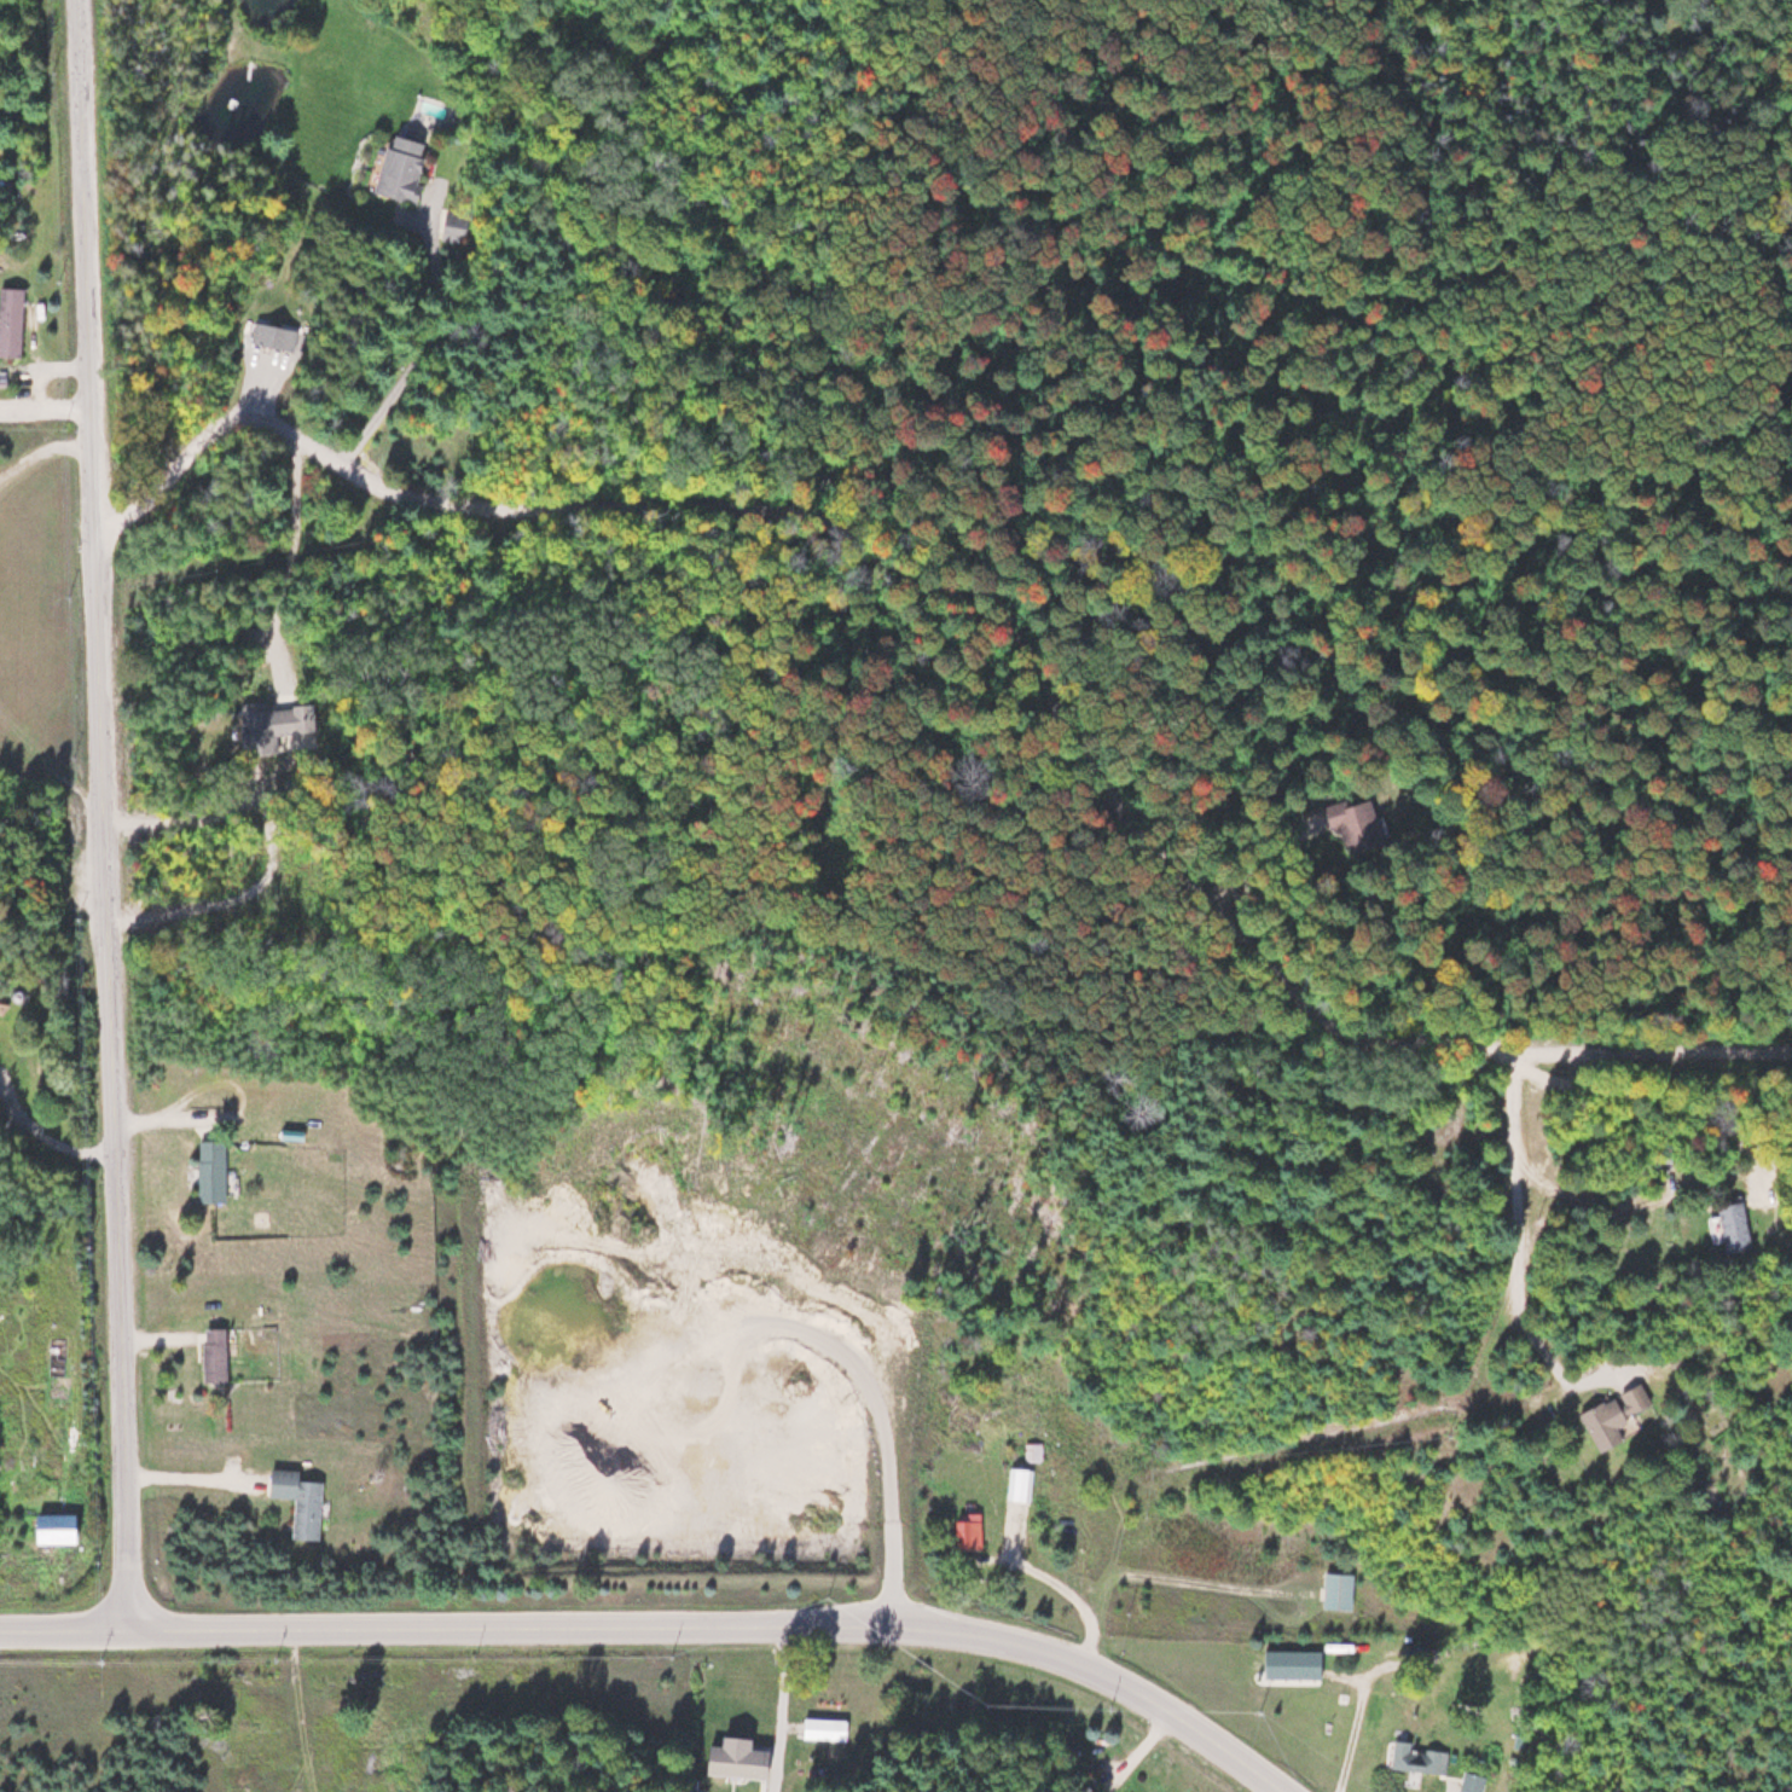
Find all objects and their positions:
building: (395, 168)
building: (456, 228)
building: (10, 320)
building: (267, 336)
road: (48, 407)
road: (997, 625)
building: (267, 725)
road: (108, 816)
building: (1347, 824)
building: (209, 1171)
building: (1729, 1226)
building: (211, 1353)
quarry: (674, 1359)
building: (1608, 1415)
building: (1032, 1451)
building: (1019, 1484)
building: (297, 1498)
building: (48, 1527)
building: (965, 1530)
building: (1335, 1589)
road: (663, 1631)
building: (1415, 1652)
building: (1289, 1663)
building: (823, 1729)
building: (1414, 1758)
building: (1469, 1782)

